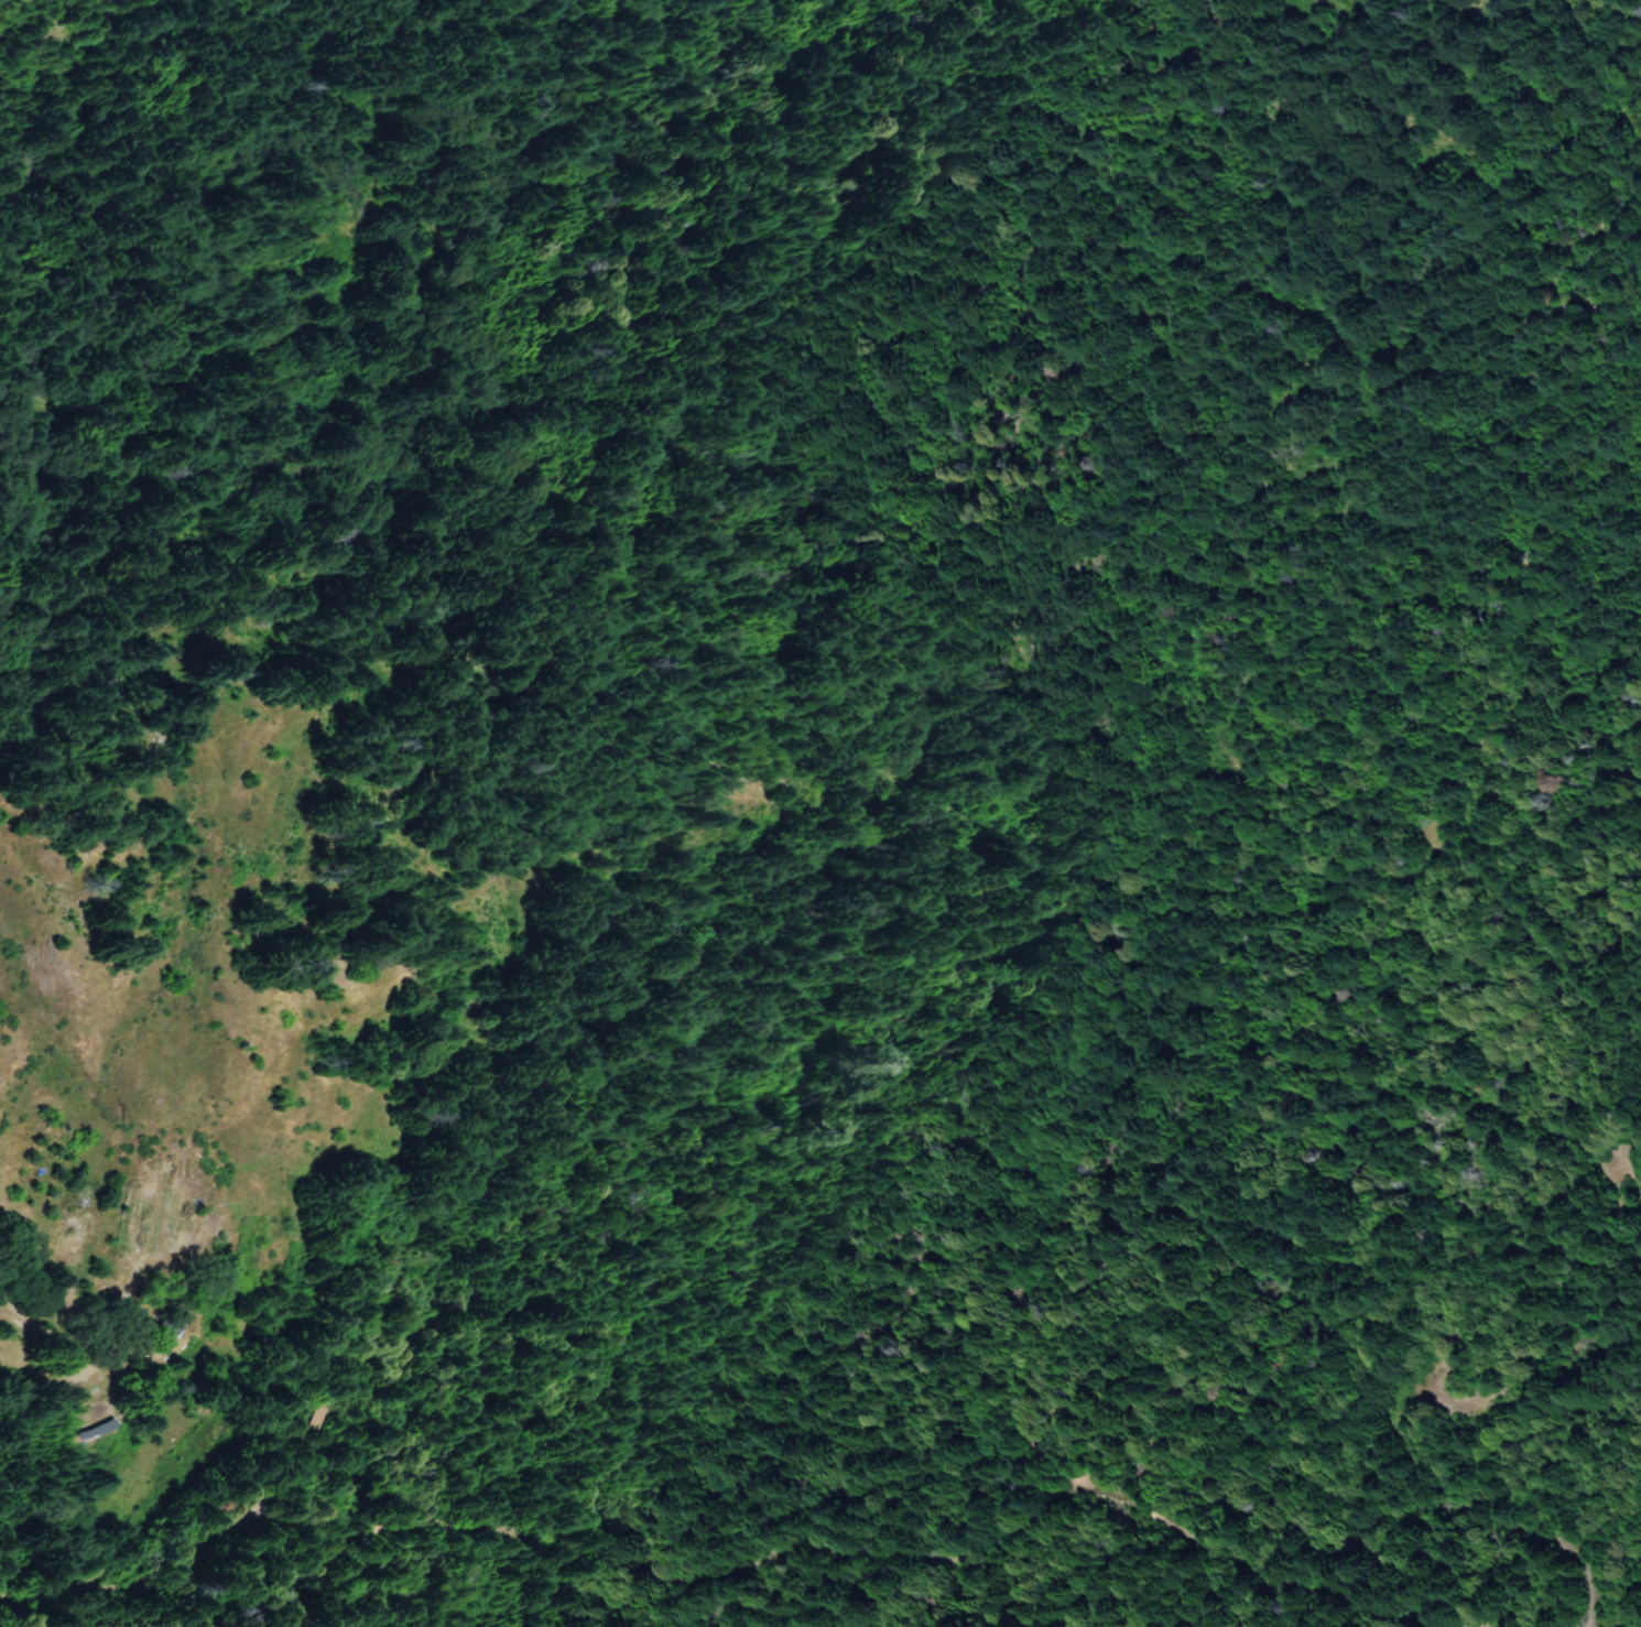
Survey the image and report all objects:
road: (66, 1466)

